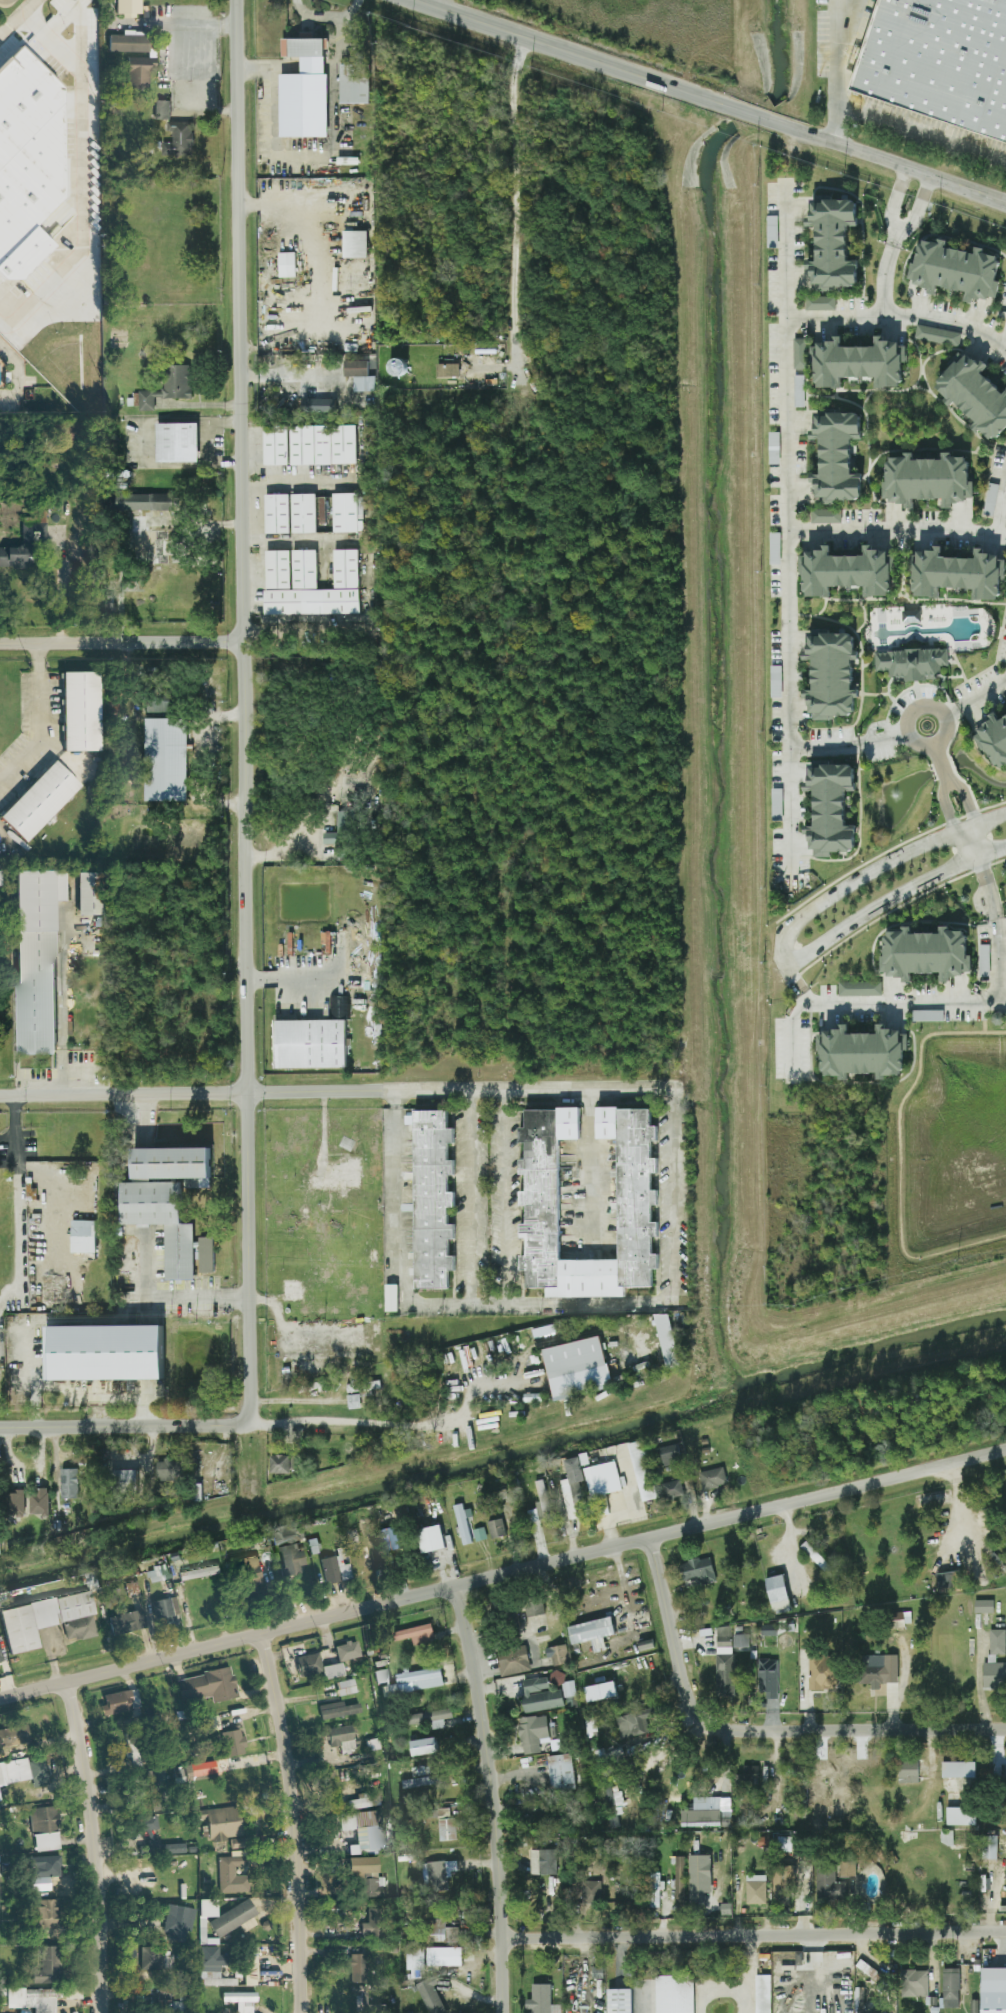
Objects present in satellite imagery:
road: (835, 0)
road: (444, 4)
building: (126, 6)
road: (16, 15)
road: (328, 16)
road: (161, 24)
building: (126, 43)
road: (190, 50)
road: (581, 54)
building: (935, 61)
road: (834, 69)
building: (137, 72)
building: (353, 85)
building: (302, 92)
building: (160, 111)
road: (756, 114)
road: (920, 134)
building: (178, 140)
road: (306, 155)
road: (887, 158)
building: (28, 161)
road: (79, 181)
road: (279, 204)
road: (514, 204)
road: (893, 204)
road: (917, 212)
building: (832, 238)
building: (353, 244)
building: (285, 264)
building: (956, 266)
road: (884, 282)
building: (819, 303)
road: (899, 321)
building: (936, 335)
road: (1005, 347)
building: (799, 353)
building: (860, 358)
building: (396, 362)
storage tank: (396, 362)
road: (489, 363)
building: (446, 364)
building: (358, 376)
road: (287, 377)
road: (17, 378)
building: (167, 387)
building: (798, 391)
building: (976, 392)
building: (321, 405)
building: (175, 442)
road: (206, 442)
building: (321, 445)
building: (274, 446)
building: (837, 452)
building: (931, 475)
road: (294, 480)
building: (990, 498)
building: (143, 502)
road: (1000, 505)
building: (320, 510)
building: (302, 513)
building: (345, 513)
building: (275, 514)
building: (825, 516)
building: (33, 528)
road: (896, 530)
road: (787, 532)
road: (296, 541)
building: (12, 558)
building: (848, 568)
building: (958, 571)
building: (308, 584)
building: (911, 616)
road: (191, 642)
building: (913, 660)
building: (830, 672)
road: (975, 699)
road: (242, 710)
building: (79, 712)
road: (37, 719)
road: (945, 720)
building: (994, 736)
road: (849, 745)
road: (942, 759)
building: (164, 760)
road: (966, 798)
building: (37, 801)
road: (946, 806)
building: (829, 808)
building: (337, 830)
road: (296, 840)
road: (973, 842)
road: (886, 868)
building: (88, 893)
road: (891, 898)
building: (286, 943)
building: (926, 950)
road: (782, 955)
road: (1001, 957)
building: (34, 958)
building: (983, 961)
road: (291, 976)
road: (798, 987)
building: (858, 989)
road: (1001, 1001)
road: (935, 1002)
building: (927, 1016)
road: (984, 1016)
building: (311, 1040)
building: (864, 1049)
road: (336, 1092)
road: (899, 1153)
building: (168, 1162)
road: (591, 1171)
building: (334, 1175)
road: (20, 1181)
building: (636, 1197)
building: (431, 1198)
road: (475, 1200)
road: (510, 1200)
building: (160, 1221)
road: (673, 1234)
building: (81, 1236)
road: (146, 1249)
building: (204, 1254)
building: (288, 1290)
road: (402, 1295)
building: (390, 1297)
road: (286, 1329)
building: (666, 1338)
building: (101, 1352)
building: (575, 1368)
road: (476, 1384)
building: (362, 1387)
road: (295, 1400)
building: (352, 1401)
road: (360, 1422)
road: (122, 1426)
building: (667, 1455)
river: (505, 1460)
building: (279, 1464)
building: (167, 1470)
building: (641, 1470)
building: (123, 1477)
building: (601, 1478)
building: (711, 1478)
building: (68, 1483)
building: (570, 1487)
building: (672, 1489)
building: (541, 1498)
building: (13, 1502)
building: (37, 1502)
building: (531, 1516)
building: (462, 1523)
building: (494, 1528)
building: (478, 1534)
building: (390, 1538)
building: (429, 1538)
building: (288, 1551)
building: (813, 1555)
building: (696, 1569)
building: (333, 1570)
building: (197, 1573)
building: (249, 1573)
road: (503, 1573)
building: (157, 1574)
building: (948, 1582)
building: (777, 1593)
building: (983, 1606)
building: (164, 1610)
building: (533, 1610)
building: (40, 1618)
building: (126, 1622)
building: (78, 1629)
building: (591, 1633)
building: (415, 1634)
building: (723, 1641)
building: (740, 1641)
building: (996, 1641)
building: (644, 1645)
building: (347, 1651)
building: (556, 1655)
building: (0, 1660)
building: (512, 1660)
building: (316, 1667)
building: (877, 1669)
building: (822, 1672)
building: (993, 1674)
building: (380, 1676)
building: (767, 1678)
building: (725, 1680)
building: (414, 1681)
road: (978, 1682)
building: (206, 1686)
building: (345, 1687)
building: (564, 1688)
building: (599, 1691)
building: (539, 1695)
building: (120, 1701)
building: (337, 1710)
building: (429, 1718)
building: (635, 1724)
road: (756, 1730)
building: (533, 1733)
building: (13, 1736)
building: (225, 1737)
building: (338, 1738)
building: (422, 1746)
building: (201, 1769)
building: (957, 1769)
building: (560, 1771)
building: (23, 1772)
building: (907, 1772)
building: (747, 1775)
building: (419, 1777)
road: (492, 1797)
building: (707, 1813)
building: (960, 1816)
road: (294, 1821)
building: (221, 1823)
building: (146, 1824)
building: (445, 1825)
building: (43, 1829)
building: (362, 1832)
road: (95, 1846)
building: (148, 1848)
building: (174, 1848)
building: (991, 1848)
building: (542, 1862)
building: (361, 1865)
building: (847, 1869)
building: (43, 1871)
building: (227, 1872)
building: (439, 1875)
building: (698, 1877)
building: (678, 1879)
building: (783, 1881)
building: (828, 1884)
building: (371, 1887)
building: (755, 1887)
building: (591, 1890)
building: (207, 1908)
building: (46, 1914)
building: (233, 1919)
building: (177, 1922)
building: (372, 1924)
building: (442, 1932)
road: (753, 1934)
building: (443, 1957)
building: (155, 1959)
building: (414, 1964)
building: (46, 1966)
building: (212, 1967)
building: (250, 1967)
building: (356, 1968)
road: (625, 1976)
building: (913, 1983)
building: (950, 1988)
building: (993, 1990)
building: (762, 1994)
building: (429, 1997)
building: (31, 1999)
building: (540, 2000)
building: (240, 2001)
building: (618, 2001)
building: (973, 2006)

